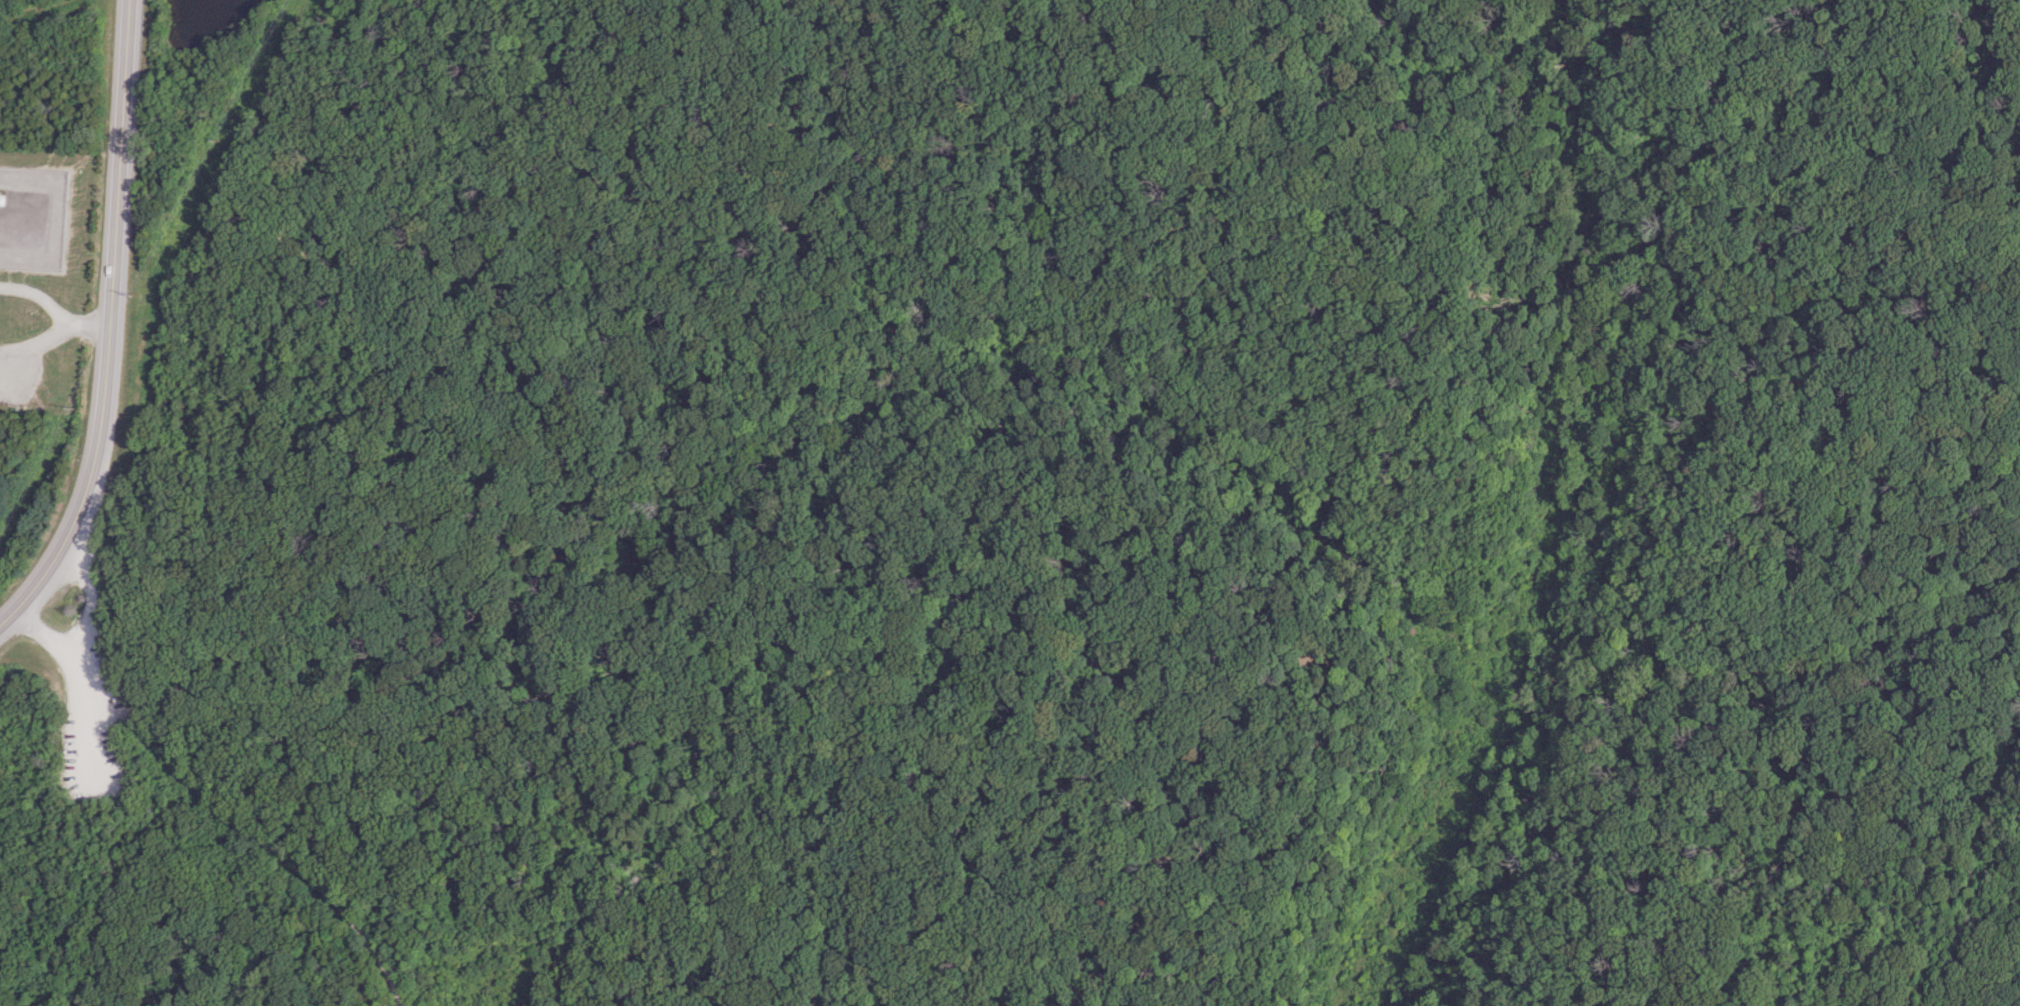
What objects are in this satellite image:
road: (1944, 90)
road: (122, 119)
road: (1318, 124)
road: (38, 296)
road: (55, 334)
road: (370, 379)
road: (96, 445)
road: (92, 593)
road: (46, 635)
road: (92, 716)
road: (107, 716)
parking lot: (90, 723)
road: (273, 850)

